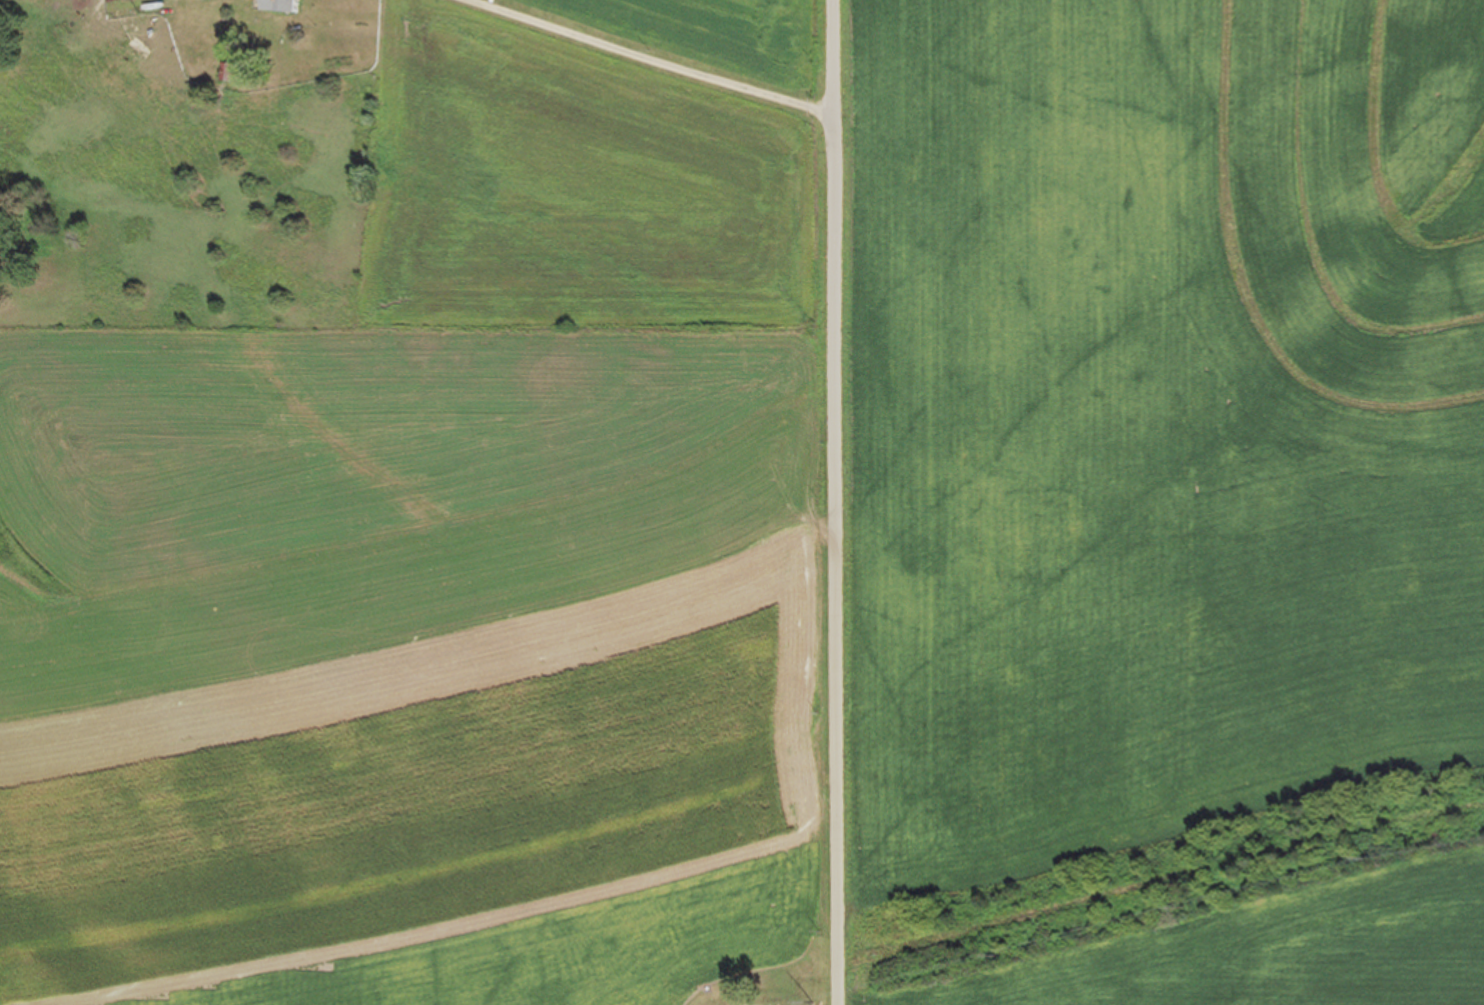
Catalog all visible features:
building: (276, 6)
road: (648, 59)
building: (231, 75)
road: (833, 502)

